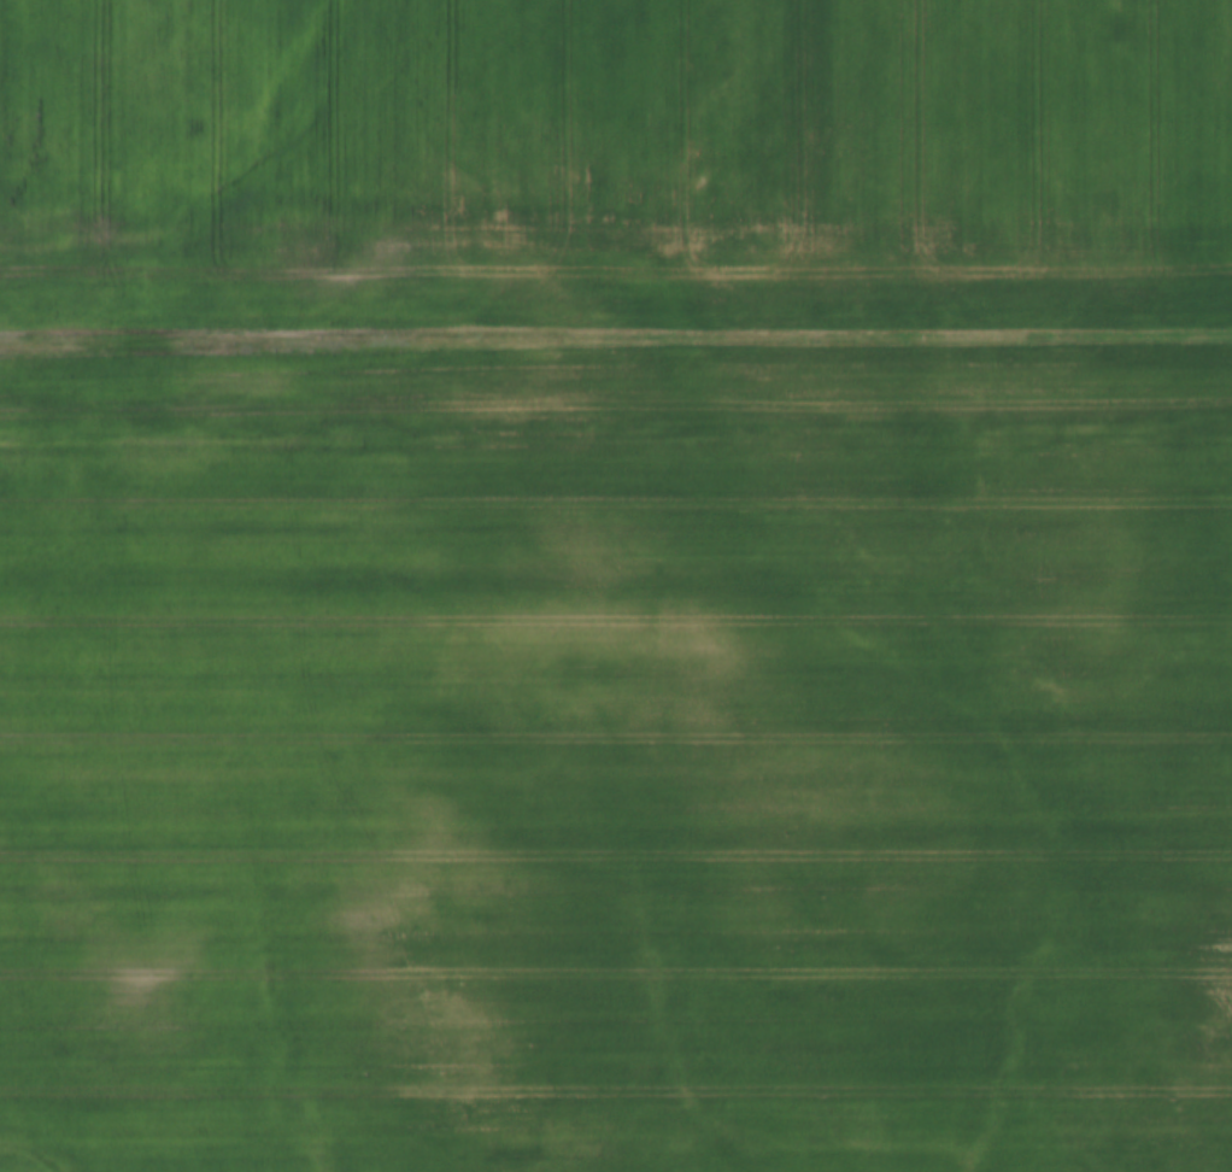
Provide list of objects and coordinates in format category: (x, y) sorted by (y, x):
road: (616, 328)

